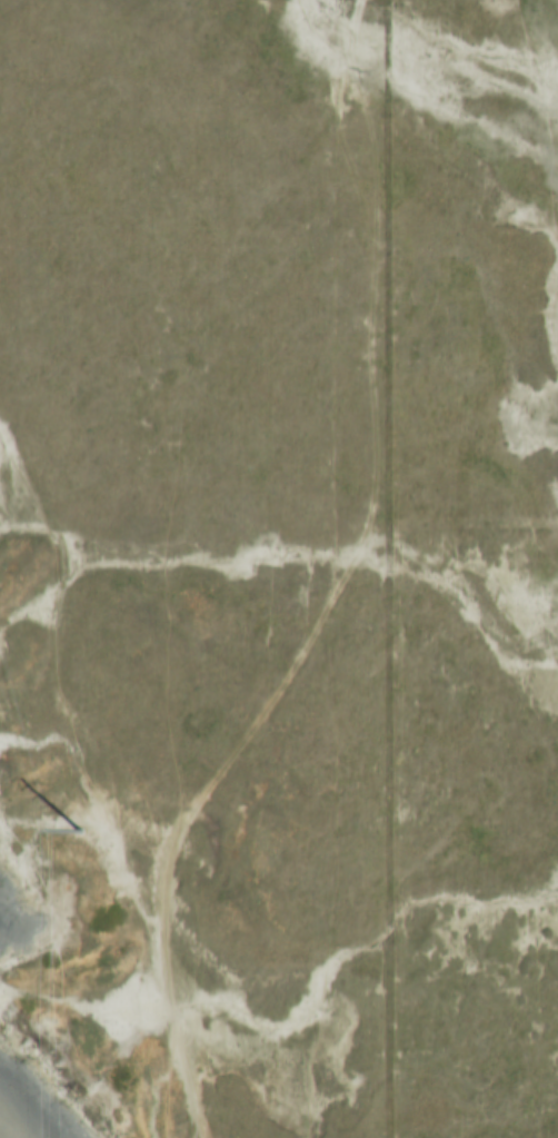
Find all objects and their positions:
road: (339, 590)
power tower: (77, 835)

